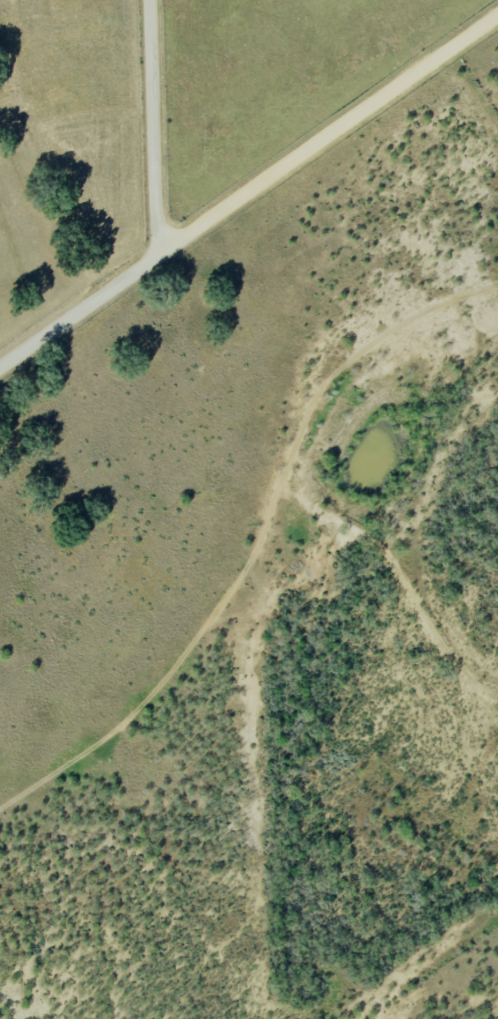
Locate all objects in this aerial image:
road: (154, 128)
road: (249, 190)

